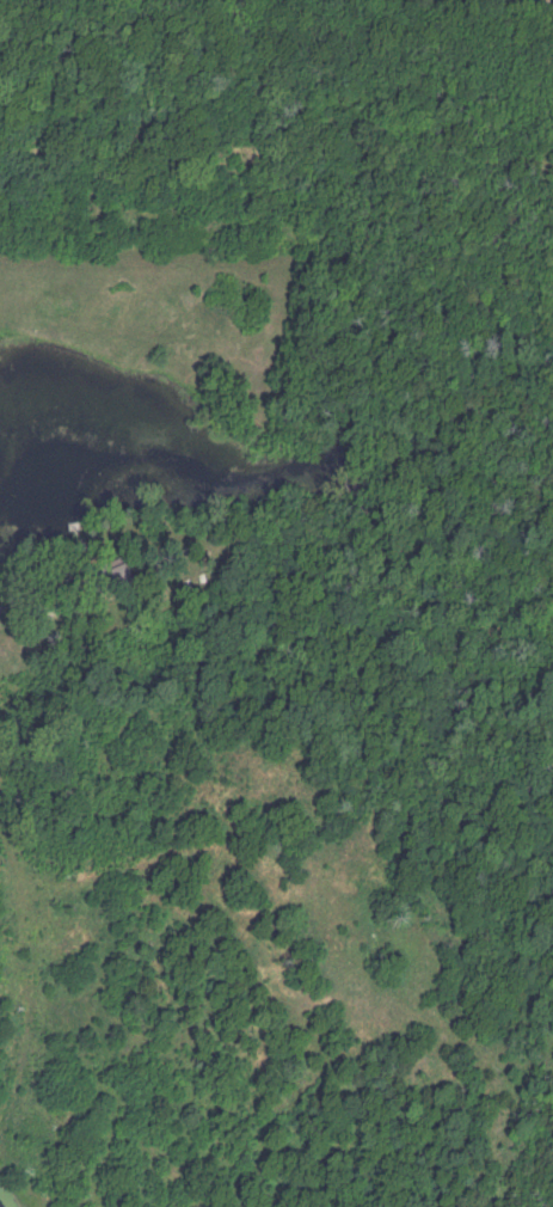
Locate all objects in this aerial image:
road: (30, 611)

